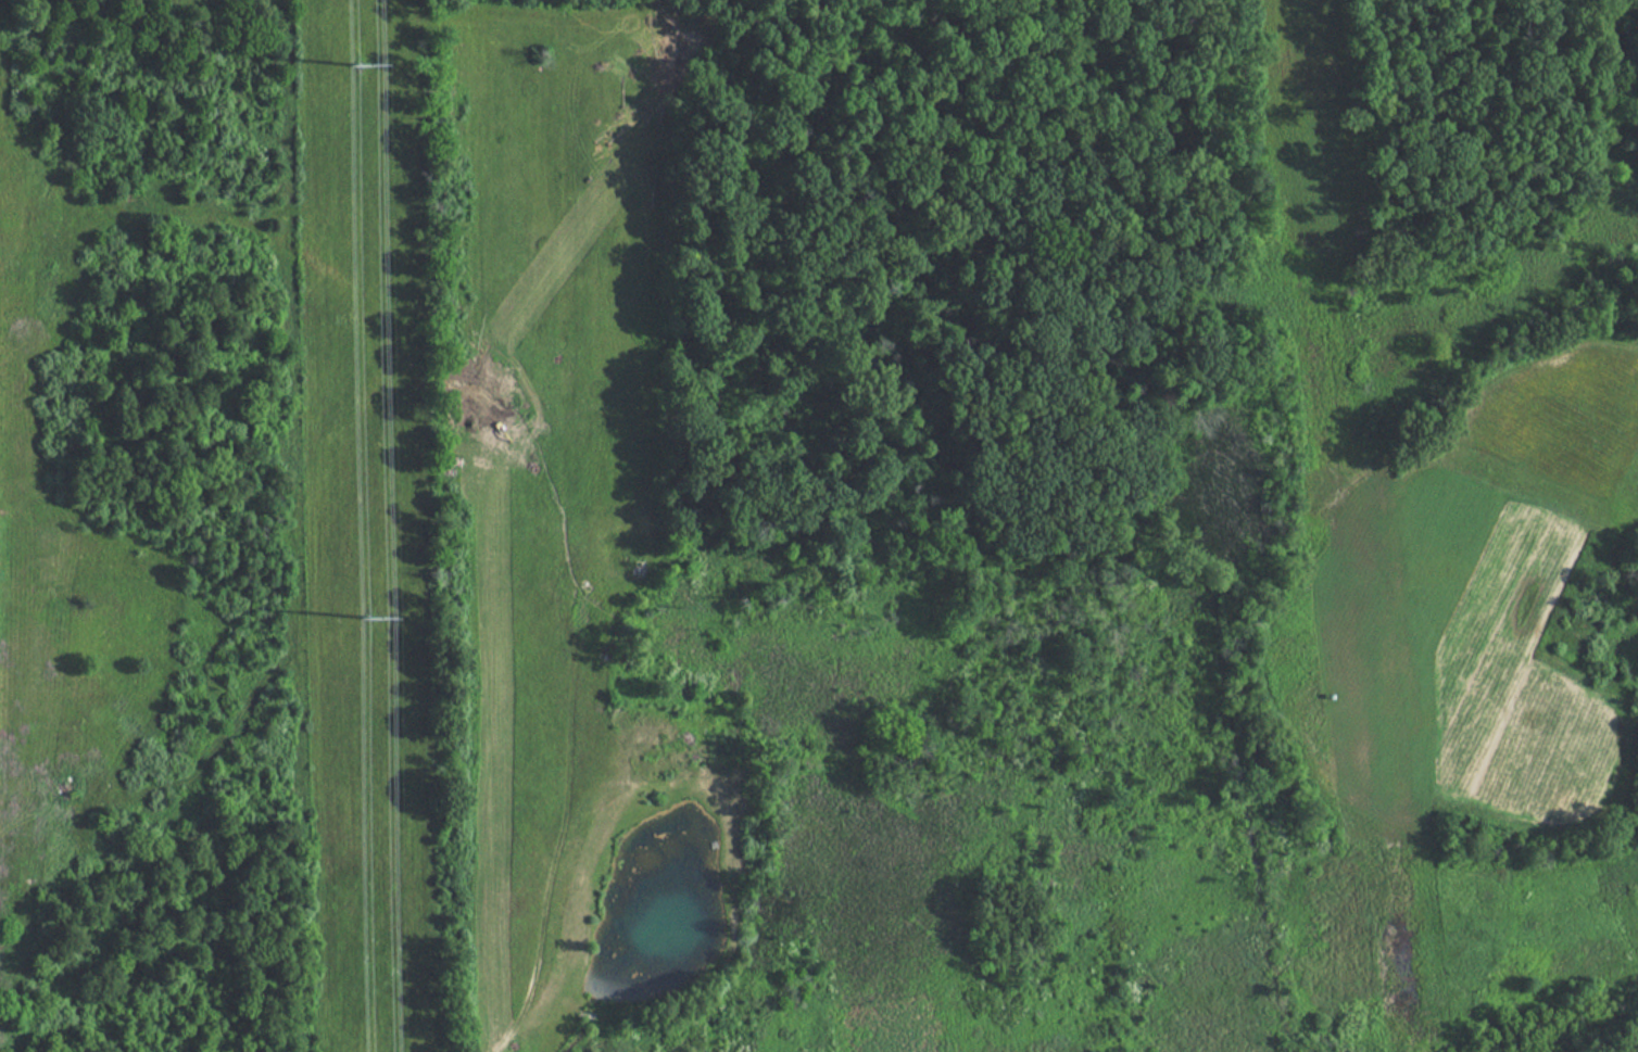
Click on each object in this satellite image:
power tower: (358, 72)
wastewater plant: (155, 531)
power tower: (368, 621)

